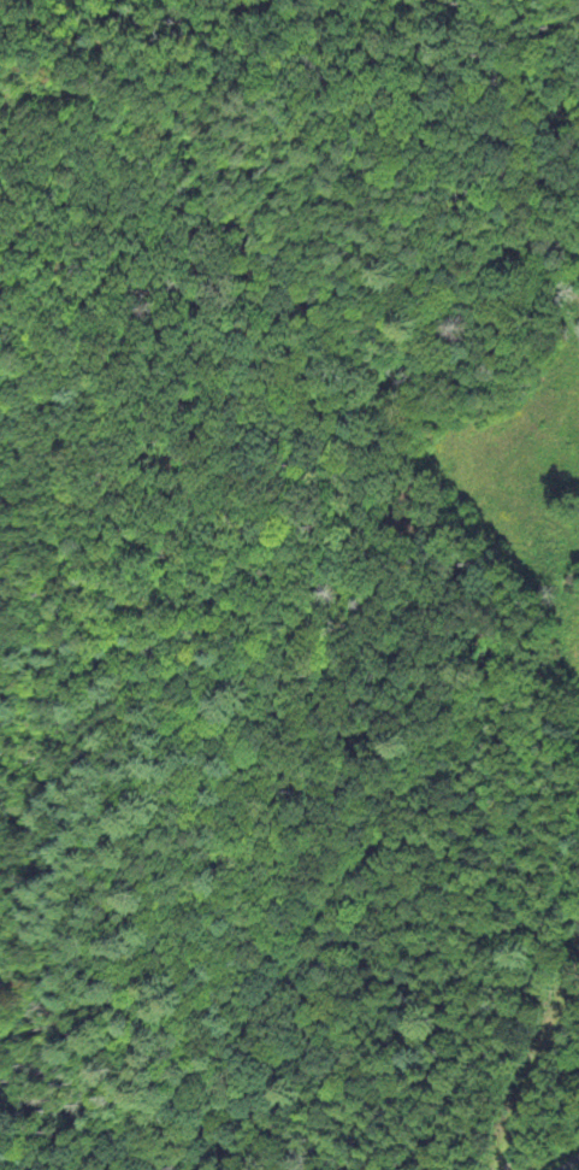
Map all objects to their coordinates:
road: (273, 395)
road: (448, 747)
road: (546, 1081)
road: (568, 1163)

